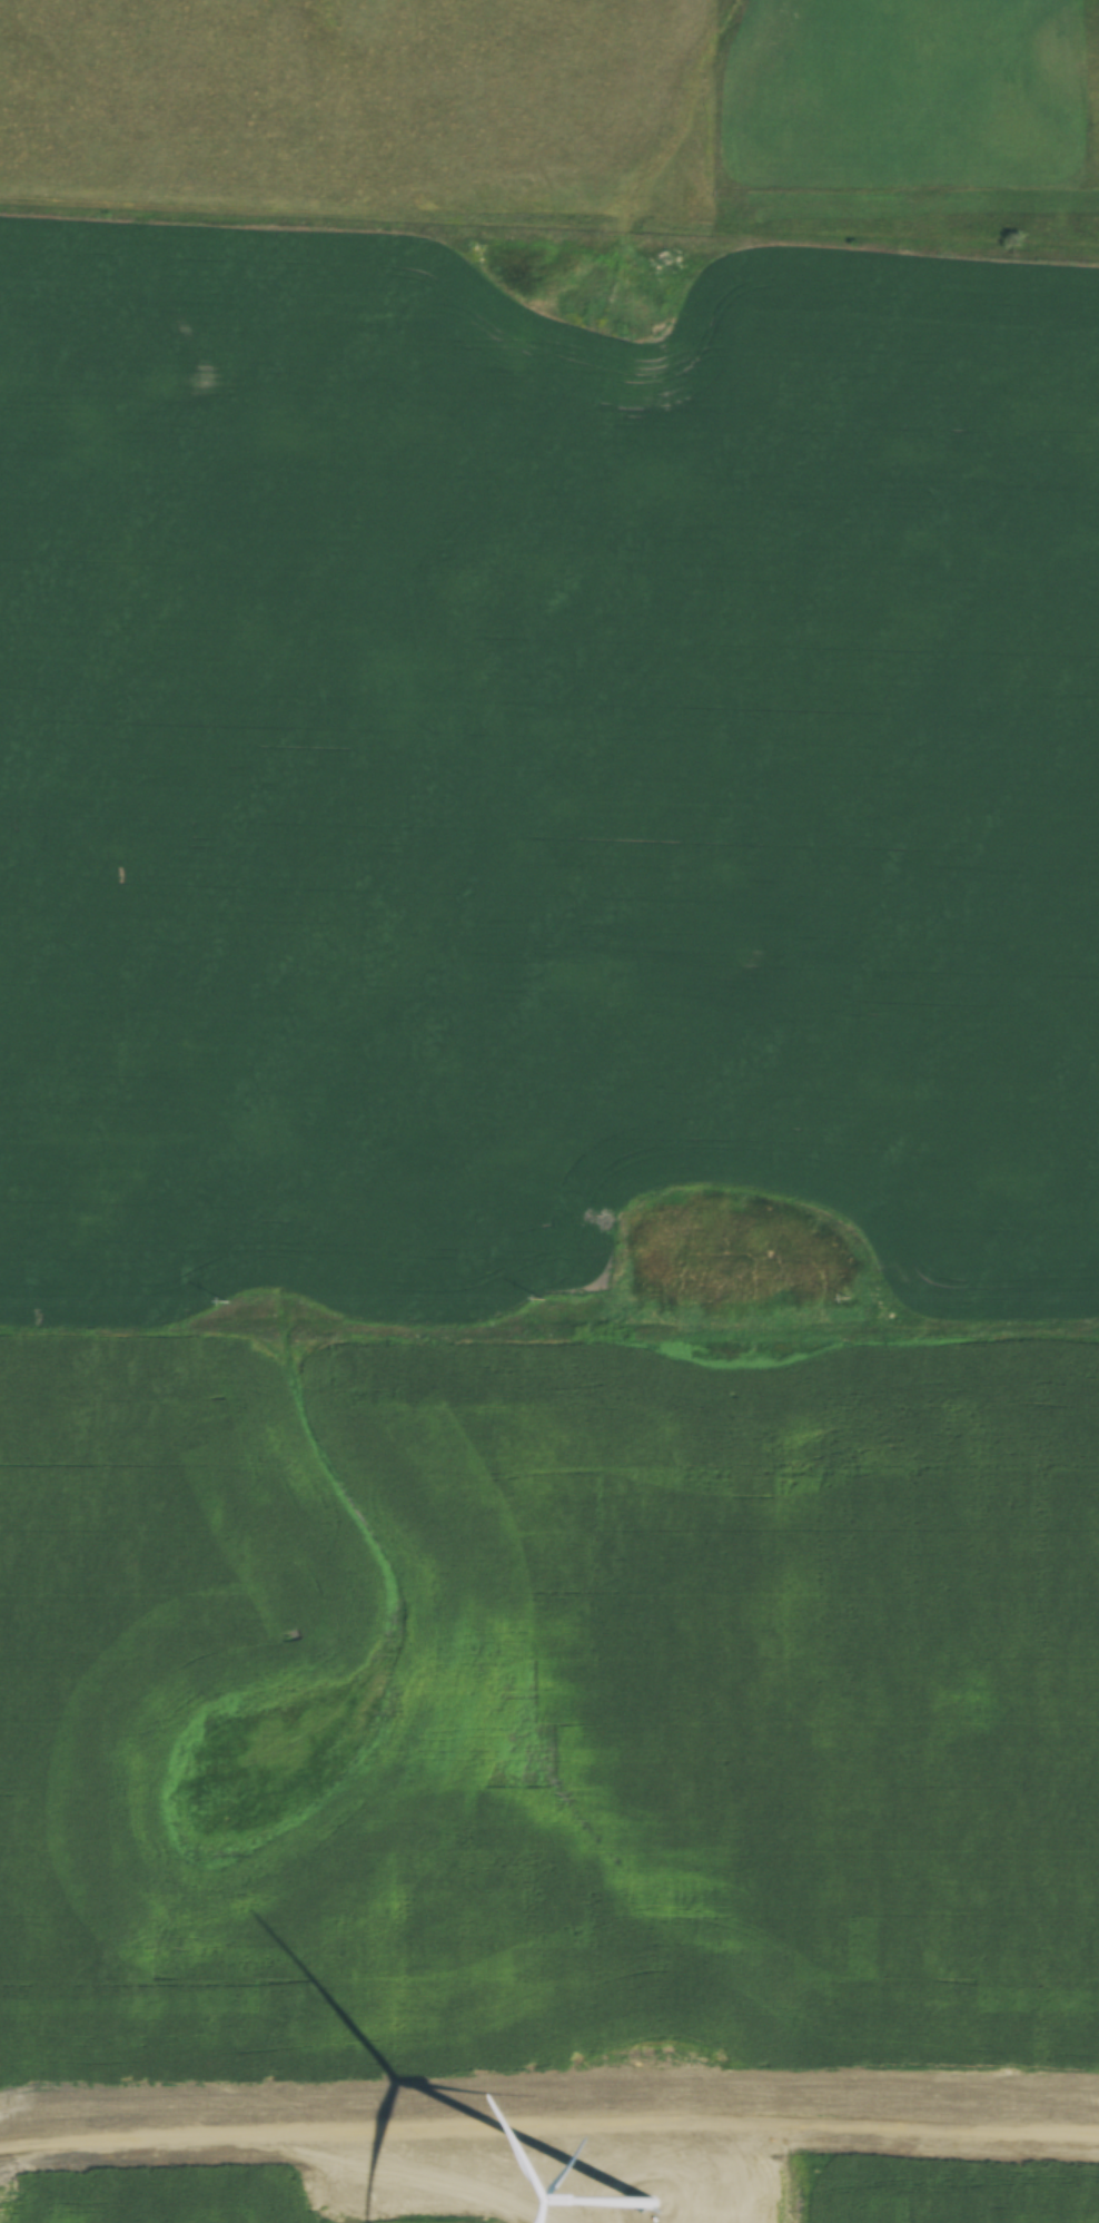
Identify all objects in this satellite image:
wind turbine: (638, 2193)

